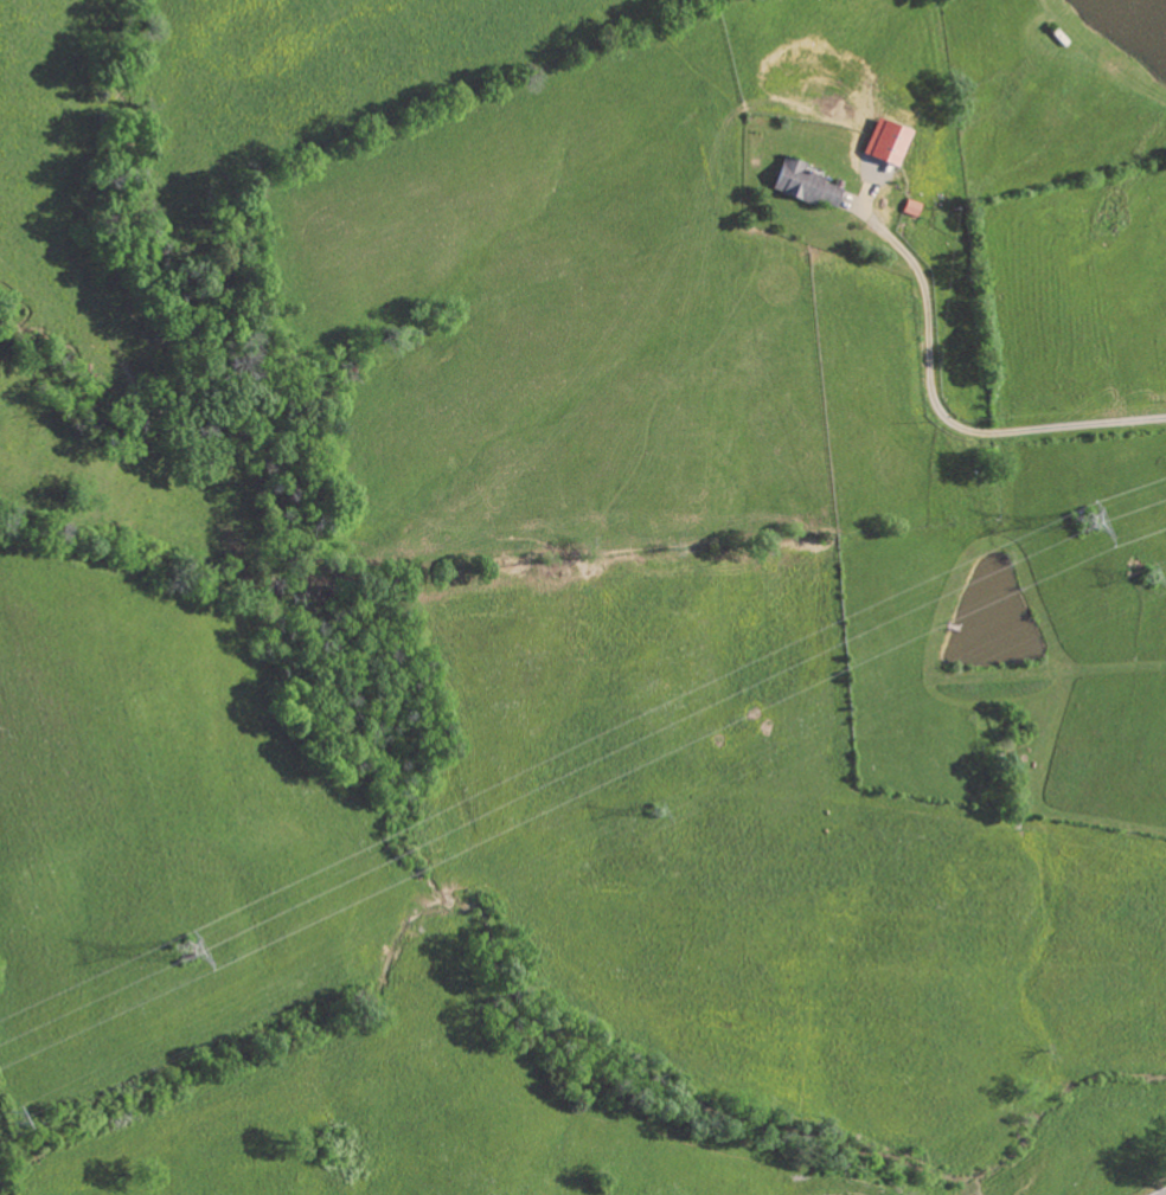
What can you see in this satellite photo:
building: (884, 143)
building: (801, 185)
road: (938, 411)
power tower: (1082, 523)
power tower: (175, 950)
road: (1165, 1194)

